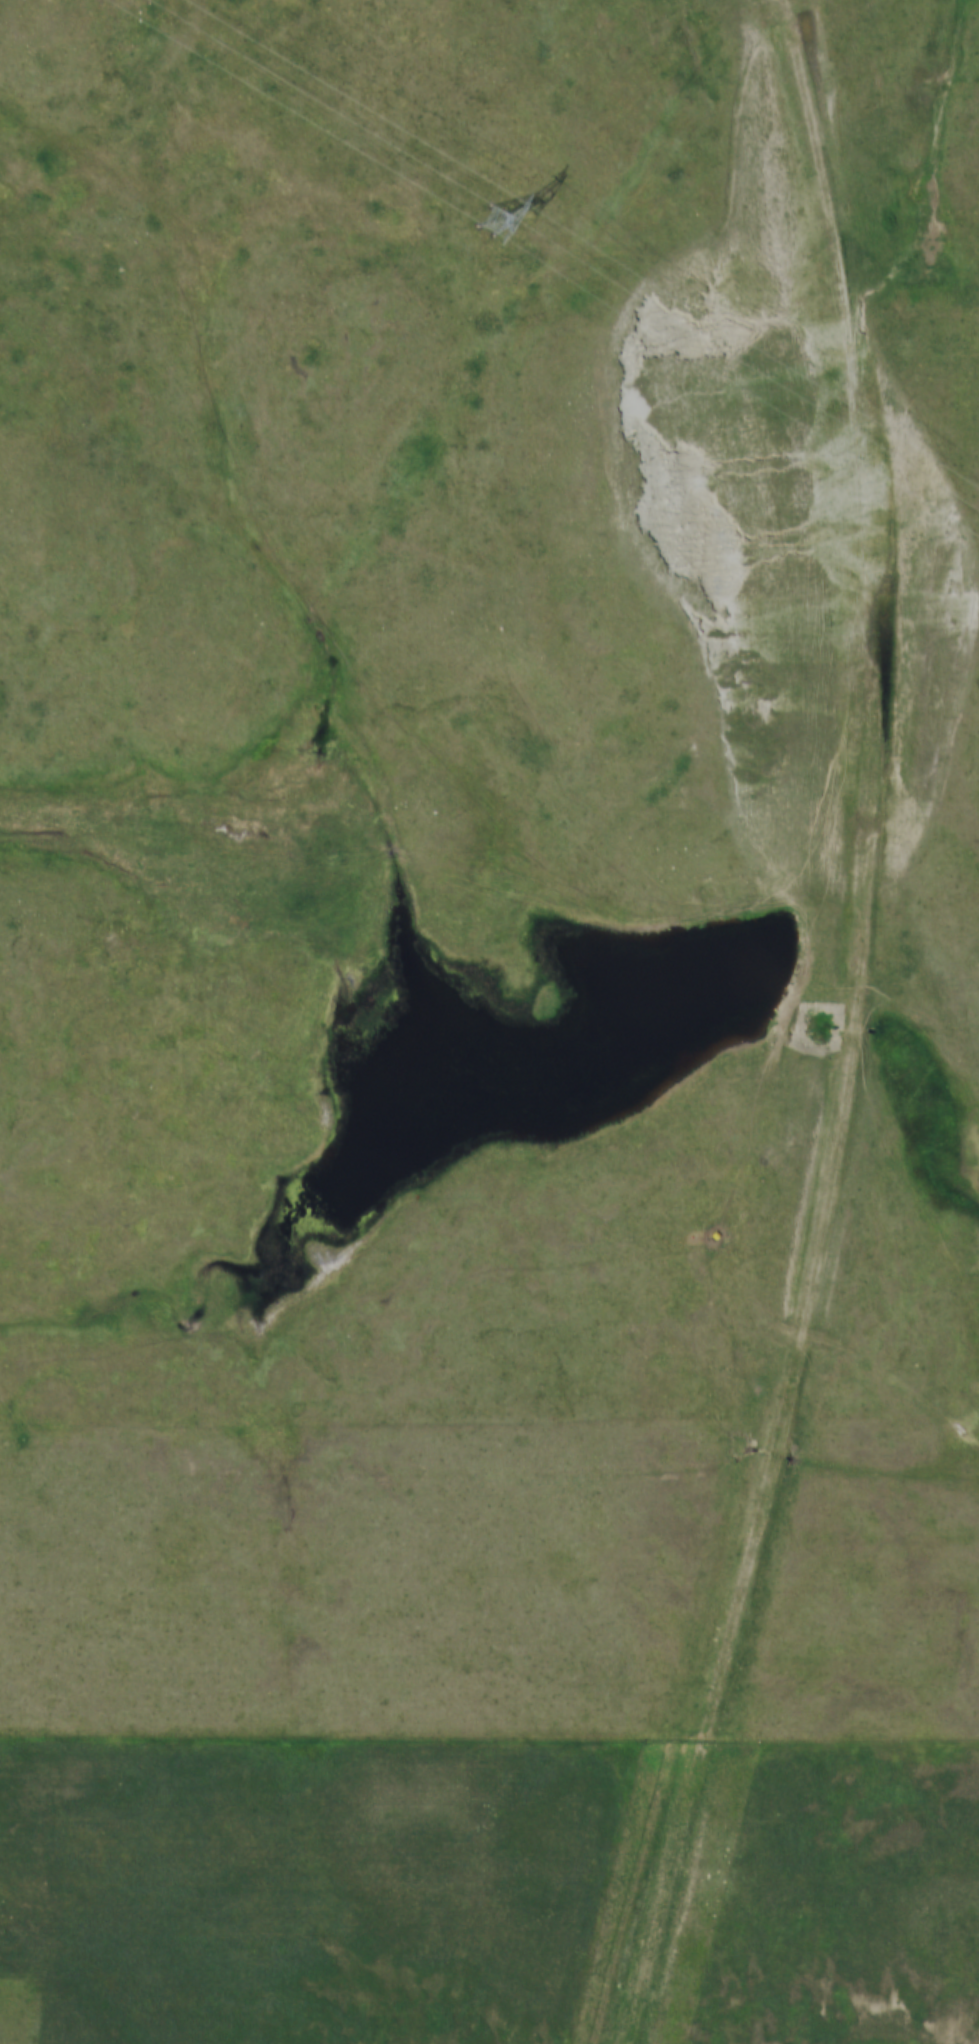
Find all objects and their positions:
power tower: (494, 221)

